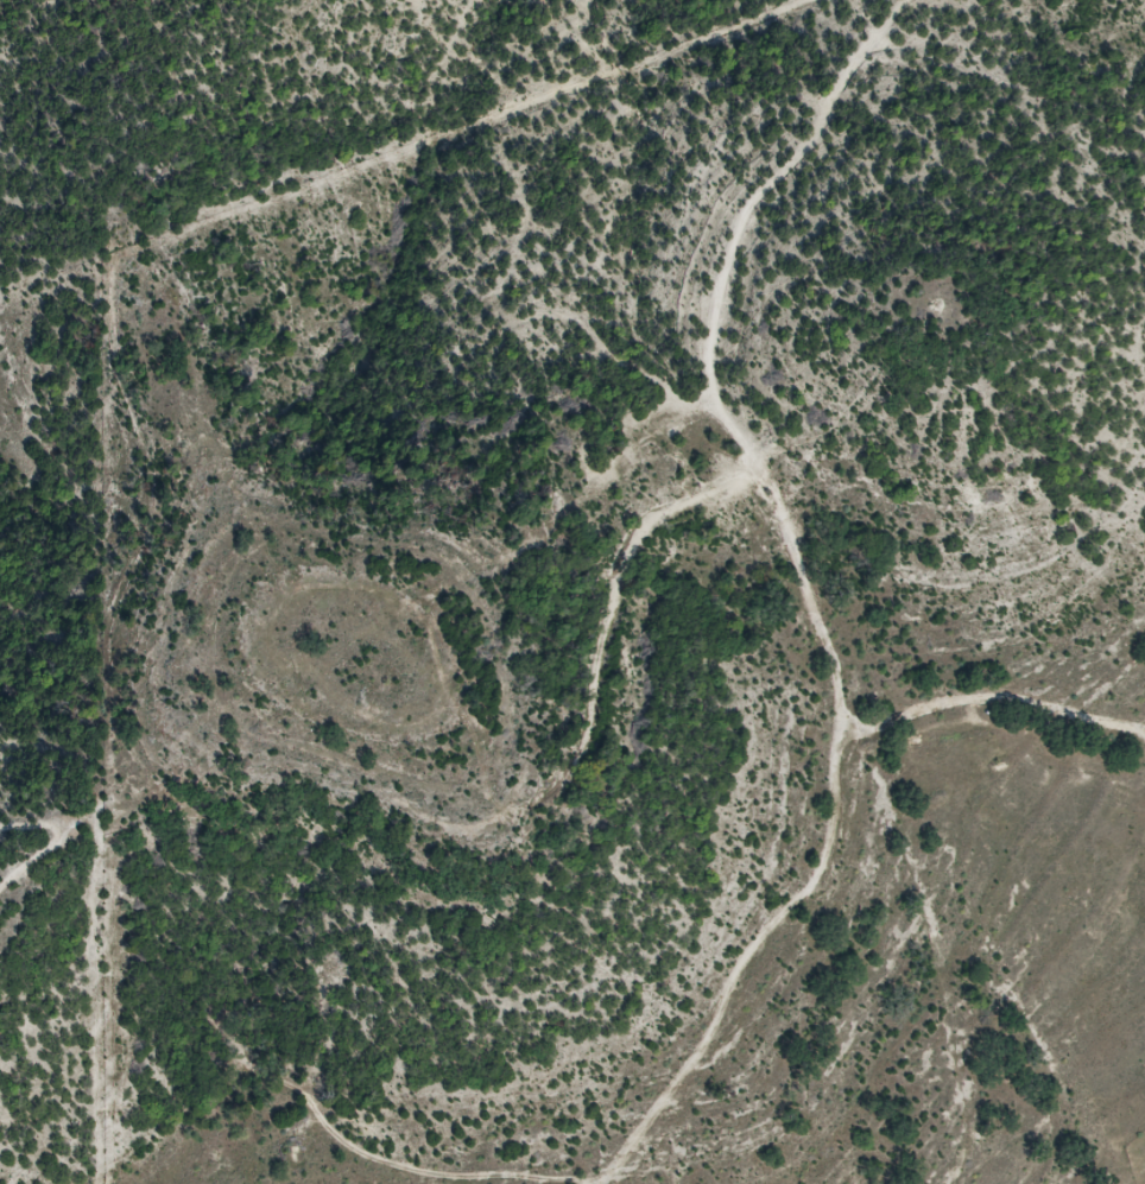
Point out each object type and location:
road: (831, 767)

